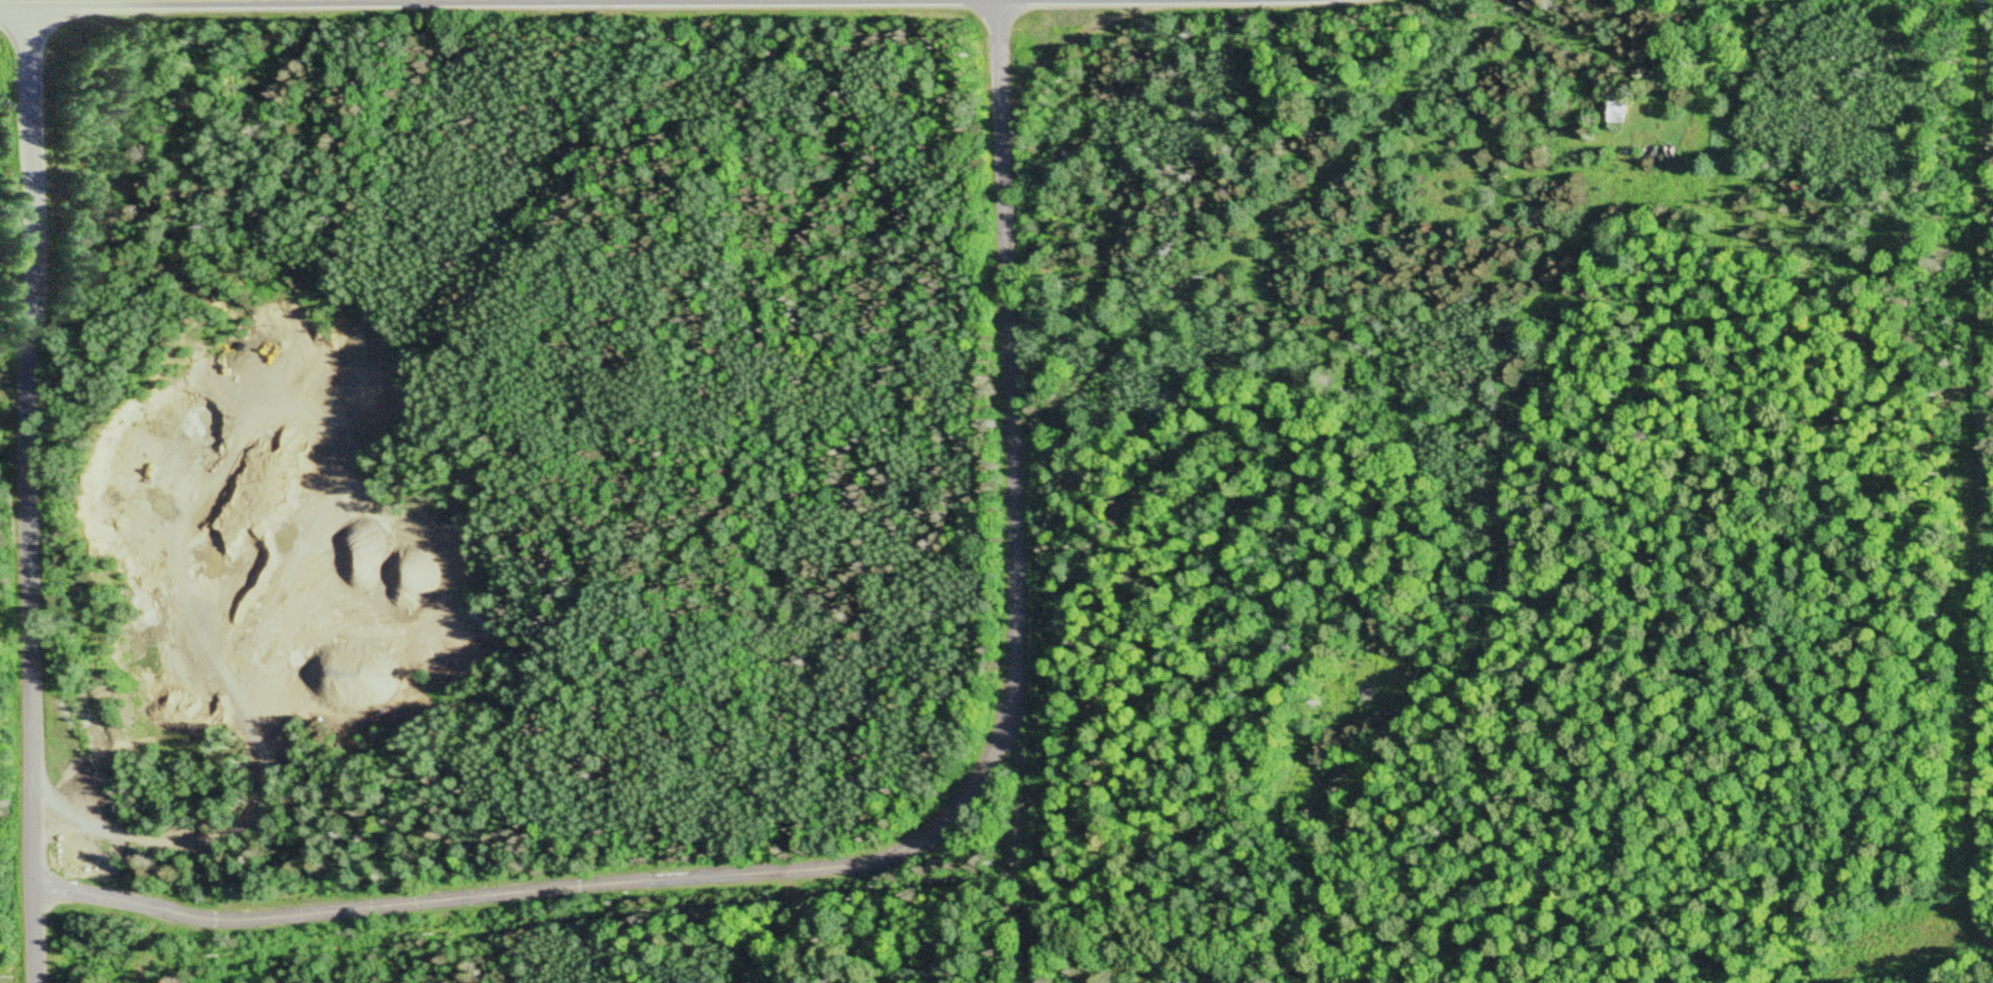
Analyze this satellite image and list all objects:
road: (502, 3)
road: (1905, 112)
road: (1983, 302)
road: (38, 494)
road: (1036, 838)
road: (916, 848)

